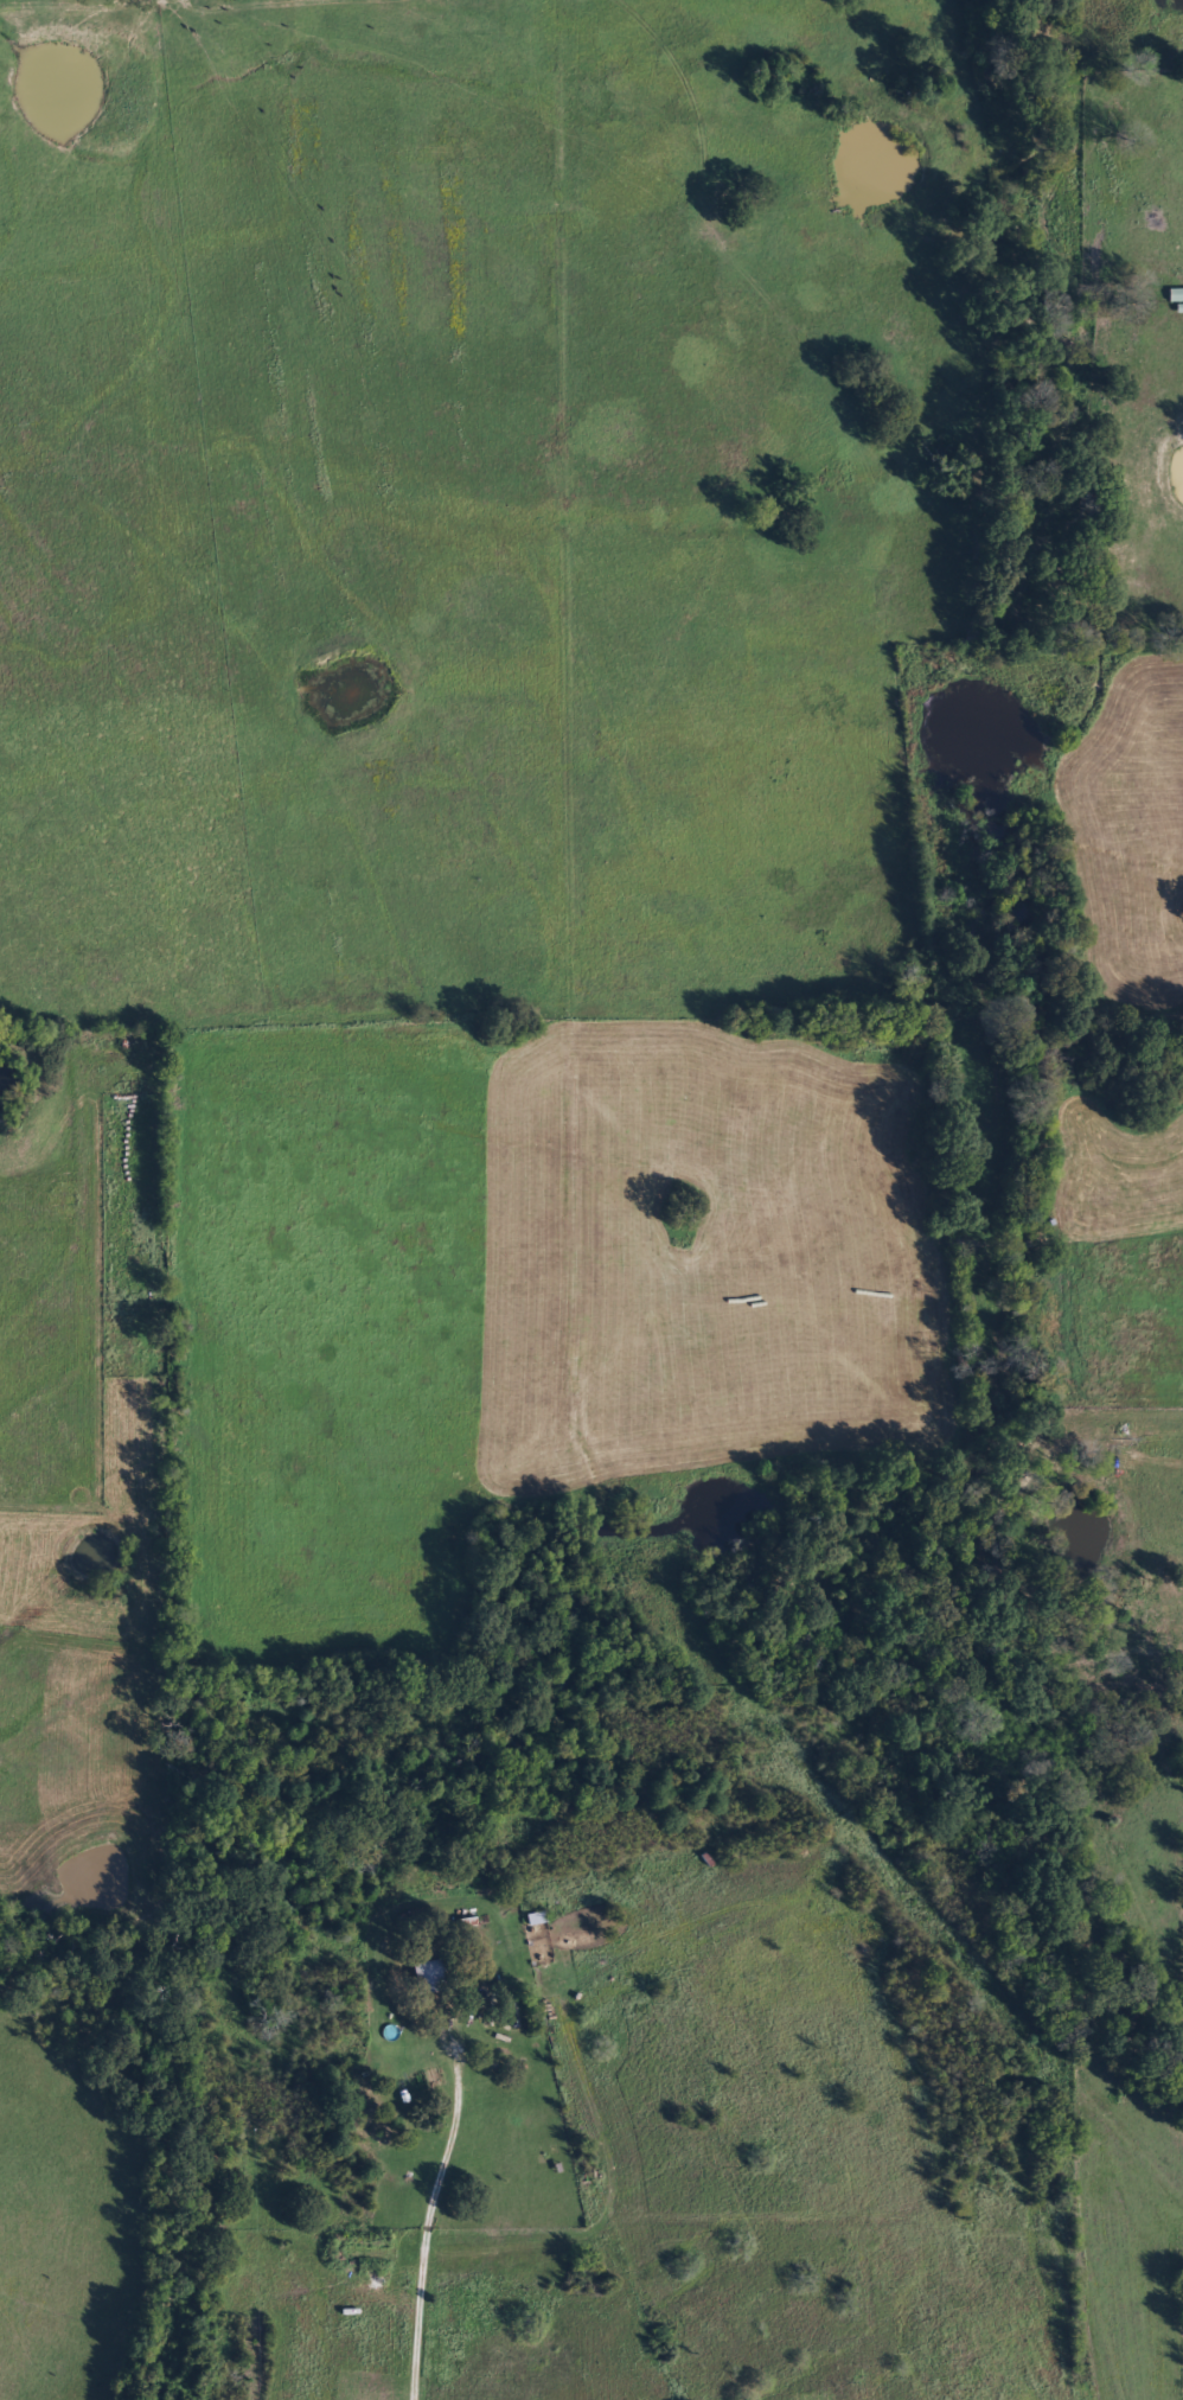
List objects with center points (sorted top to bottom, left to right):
building: (439, 1977)

